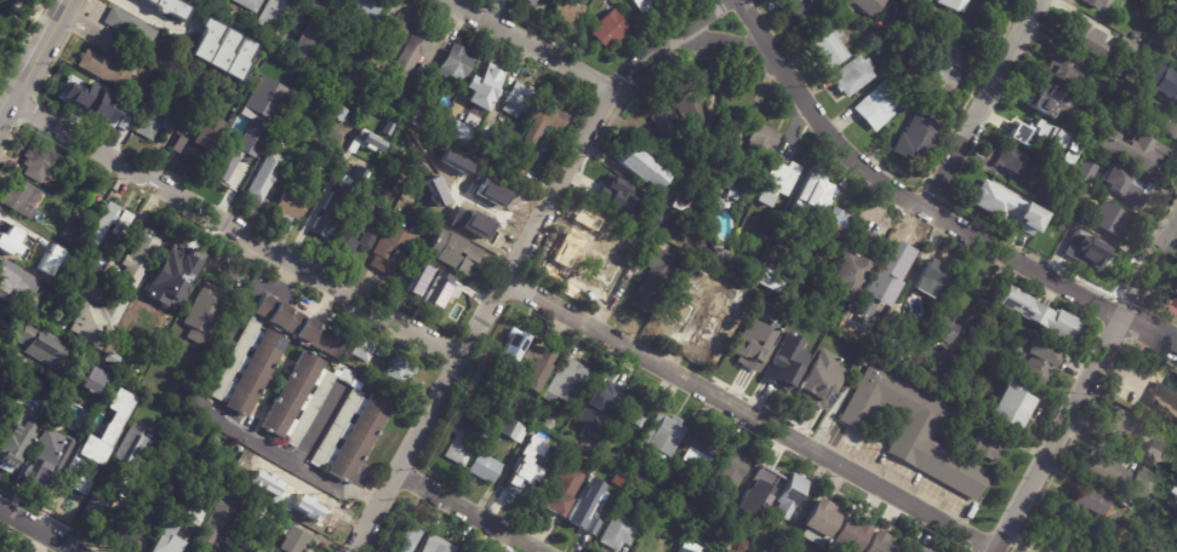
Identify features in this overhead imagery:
building: (821, 0)
building: (24, 1)
building: (925, 1)
building: (1002, 1)
building: (530, 2)
building: (1097, 4)
building: (248, 5)
building: (644, 5)
building: (867, 5)
building: (956, 5)
building: (156, 6)
building: (171, 6)
building: (327, 6)
building: (798, 7)
building: (1173, 11)
building: (566, 13)
building: (224, 15)
building: (272, 15)
building: (362, 16)
building: (341, 19)
road: (156, 22)
building: (907, 28)
building: (131, 30)
building: (610, 30)
building: (393, 34)
building: (1082, 35)
building: (873, 36)
building: (307, 41)
road: (724, 44)
road: (530, 45)
building: (1155, 45)
building: (881, 46)
building: (223, 48)
building: (832, 48)
building: (360, 53)
road: (32, 56)
building: (190, 57)
building: (408, 59)
building: (943, 67)
building: (355, 68)
building: (455, 68)
building: (1064, 69)
building: (107, 70)
building: (855, 76)
building: (1108, 79)
building: (482, 87)
building: (1172, 90)
building: (95, 97)
building: (519, 100)
building: (421, 103)
building: (1045, 103)
building: (687, 104)
building: (880, 104)
road: (982, 104)
building: (1084, 111)
building: (158, 114)
building: (338, 114)
building: (1131, 116)
road: (592, 120)
building: (267, 121)
building: (544, 123)
building: (1167, 123)
building: (204, 130)
building: (668, 130)
building: (459, 131)
building: (1025, 133)
building: (410, 137)
building: (371, 140)
building: (916, 140)
building: (181, 144)
building: (761, 144)
building: (1073, 144)
building: (481, 145)
building: (705, 149)
building: (1135, 151)
building: (315, 160)
building: (490, 162)
building: (1018, 163)
building: (39, 165)
building: (234, 167)
building: (640, 168)
building: (505, 171)
building: (1086, 171)
building: (360, 176)
building: (781, 176)
building: (264, 177)
building: (419, 180)
building: (730, 184)
building: (480, 185)
building: (1124, 186)
building: (696, 188)
building: (615, 190)
building: (813, 191)
road: (897, 192)
building: (1078, 194)
building: (1046, 195)
building: (22, 197)
building: (716, 202)
building: (291, 203)
road: (315, 203)
building: (681, 203)
building: (1007, 208)
building: (463, 218)
building: (326, 220)
building: (1112, 220)
building: (109, 222)
road: (232, 224)
building: (836, 225)
building: (361, 231)
building: (669, 232)
building: (10, 234)
building: (73, 234)
building: (766, 234)
building: (579, 238)
road: (127, 240)
building: (815, 241)
building: (865, 241)
building: (392, 251)
building: (452, 253)
building: (606, 254)
building: (719, 258)
building: (1096, 258)
building: (752, 264)
building: (52, 265)
road: (1149, 266)
building: (895, 269)
building: (173, 275)
building: (849, 276)
building: (933, 276)
building: (652, 280)
building: (16, 283)
building: (425, 289)
building: (114, 294)
building: (680, 295)
building: (1176, 310)
building: (1036, 312)
building: (204, 316)
building: (726, 321)
building: (142, 328)
building: (941, 328)
road: (1149, 330)
building: (793, 332)
building: (514, 344)
building: (752, 344)
building: (35, 345)
road: (7, 346)
building: (895, 349)
building: (361, 350)
building: (267, 353)
building: (95, 355)
building: (787, 361)
building: (1038, 361)
building: (971, 362)
building: (533, 367)
building: (815, 368)
building: (399, 370)
building: (937, 375)
building: (148, 379)
building: (92, 380)
building: (566, 381)
building: (2, 390)
building: (610, 397)
building: (1166, 397)
building: (482, 401)
building: (1009, 406)
building: (634, 410)
road: (205, 414)
road: (752, 414)
road: (429, 415)
building: (370, 418)
building: (549, 421)
road: (318, 424)
building: (513, 430)
building: (914, 432)
road: (1057, 433)
building: (664, 436)
building: (1144, 437)
building: (63, 442)
building: (217, 442)
building: (987, 442)
building: (459, 443)
building: (698, 449)
building: (10, 450)
building: (625, 454)
building: (95, 461)
building: (485, 467)
building: (732, 470)
building: (636, 472)
building: (522, 473)
building: (33, 476)
building: (1124, 476)
building: (650, 477)
building: (127, 481)
building: (561, 489)
building: (679, 491)
building: (759, 491)
building: (72, 494)
building: (165, 496)
building: (725, 498)
building: (790, 500)
building: (1092, 500)
building: (1126, 502)
building: (673, 505)
building: (587, 507)
building: (303, 511)
building: (719, 512)
building: (258, 513)
road: (465, 513)
building: (185, 514)
building: (135, 519)
building: (818, 522)
building: (248, 527)
building: (213, 529)
road: (35, 530)
building: (915, 533)
building: (618, 534)
building: (847, 535)
building: (729, 537)
building: (405, 539)
road: (1018, 540)
building: (297, 541)
building: (655, 542)
building: (878, 542)
building: (436, 545)
building: (708, 545)
building: (767, 545)
building: (919, 548)
building: (685, 550)
road: (1035, 550)

